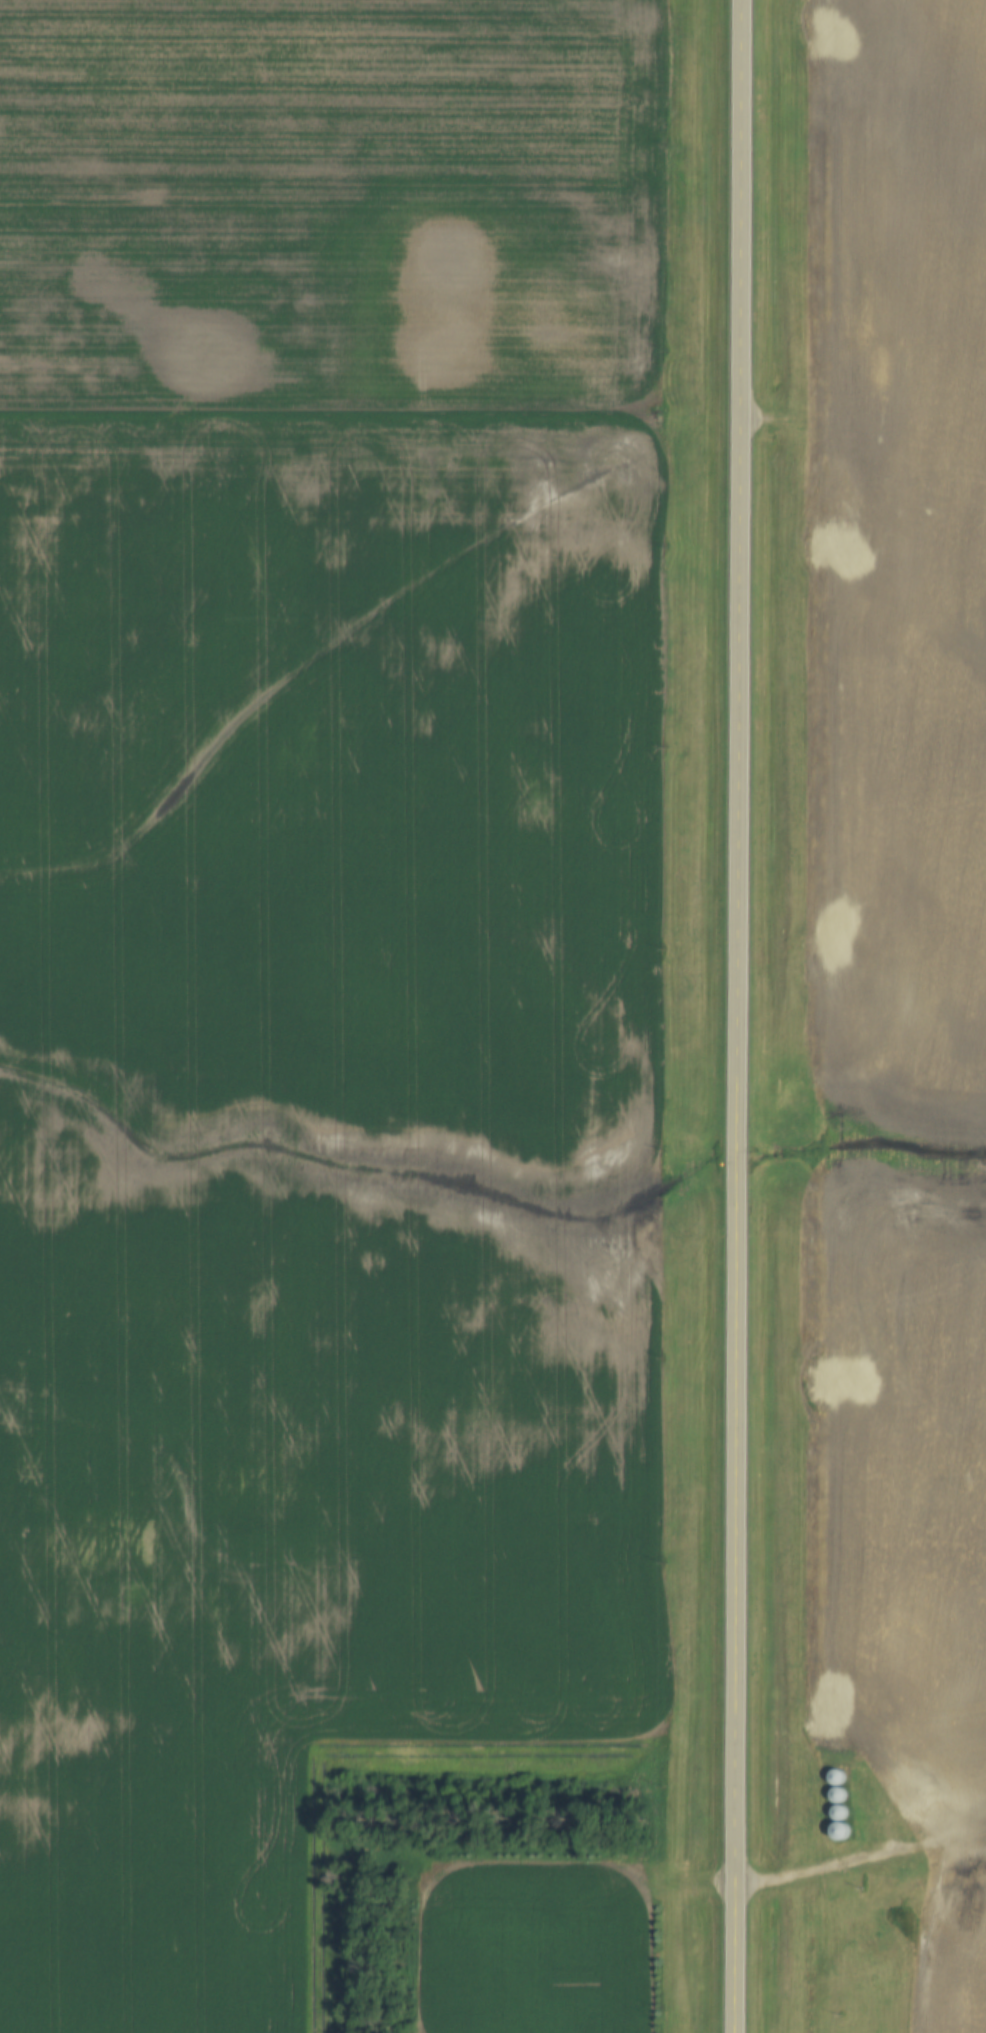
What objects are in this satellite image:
road: (742, 1016)
building: (837, 1805)
building: (912, 1805)
road: (859, 1860)

